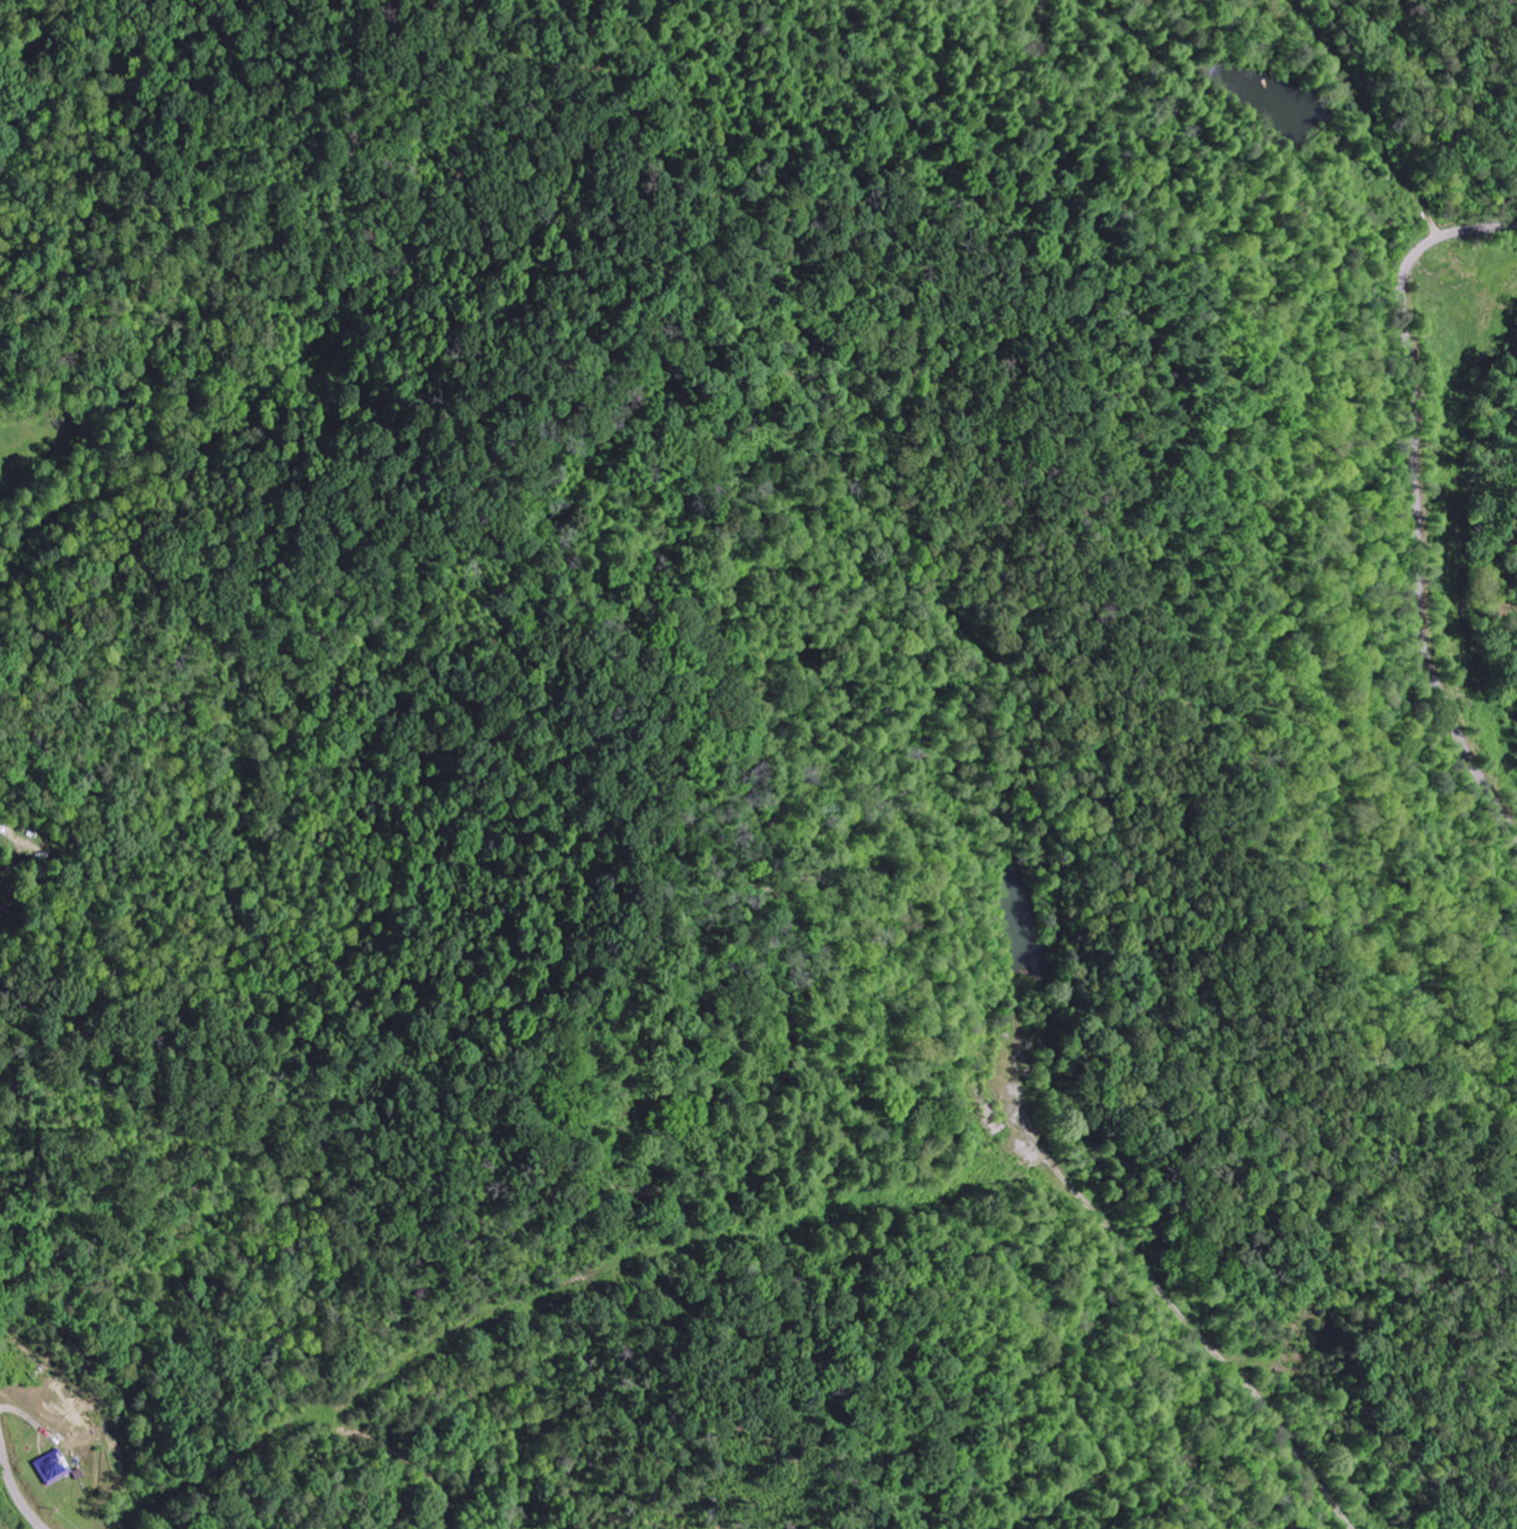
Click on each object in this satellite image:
road: (1419, 503)
road: (6, 1463)
building: (53, 1466)
road: (24, 1506)

